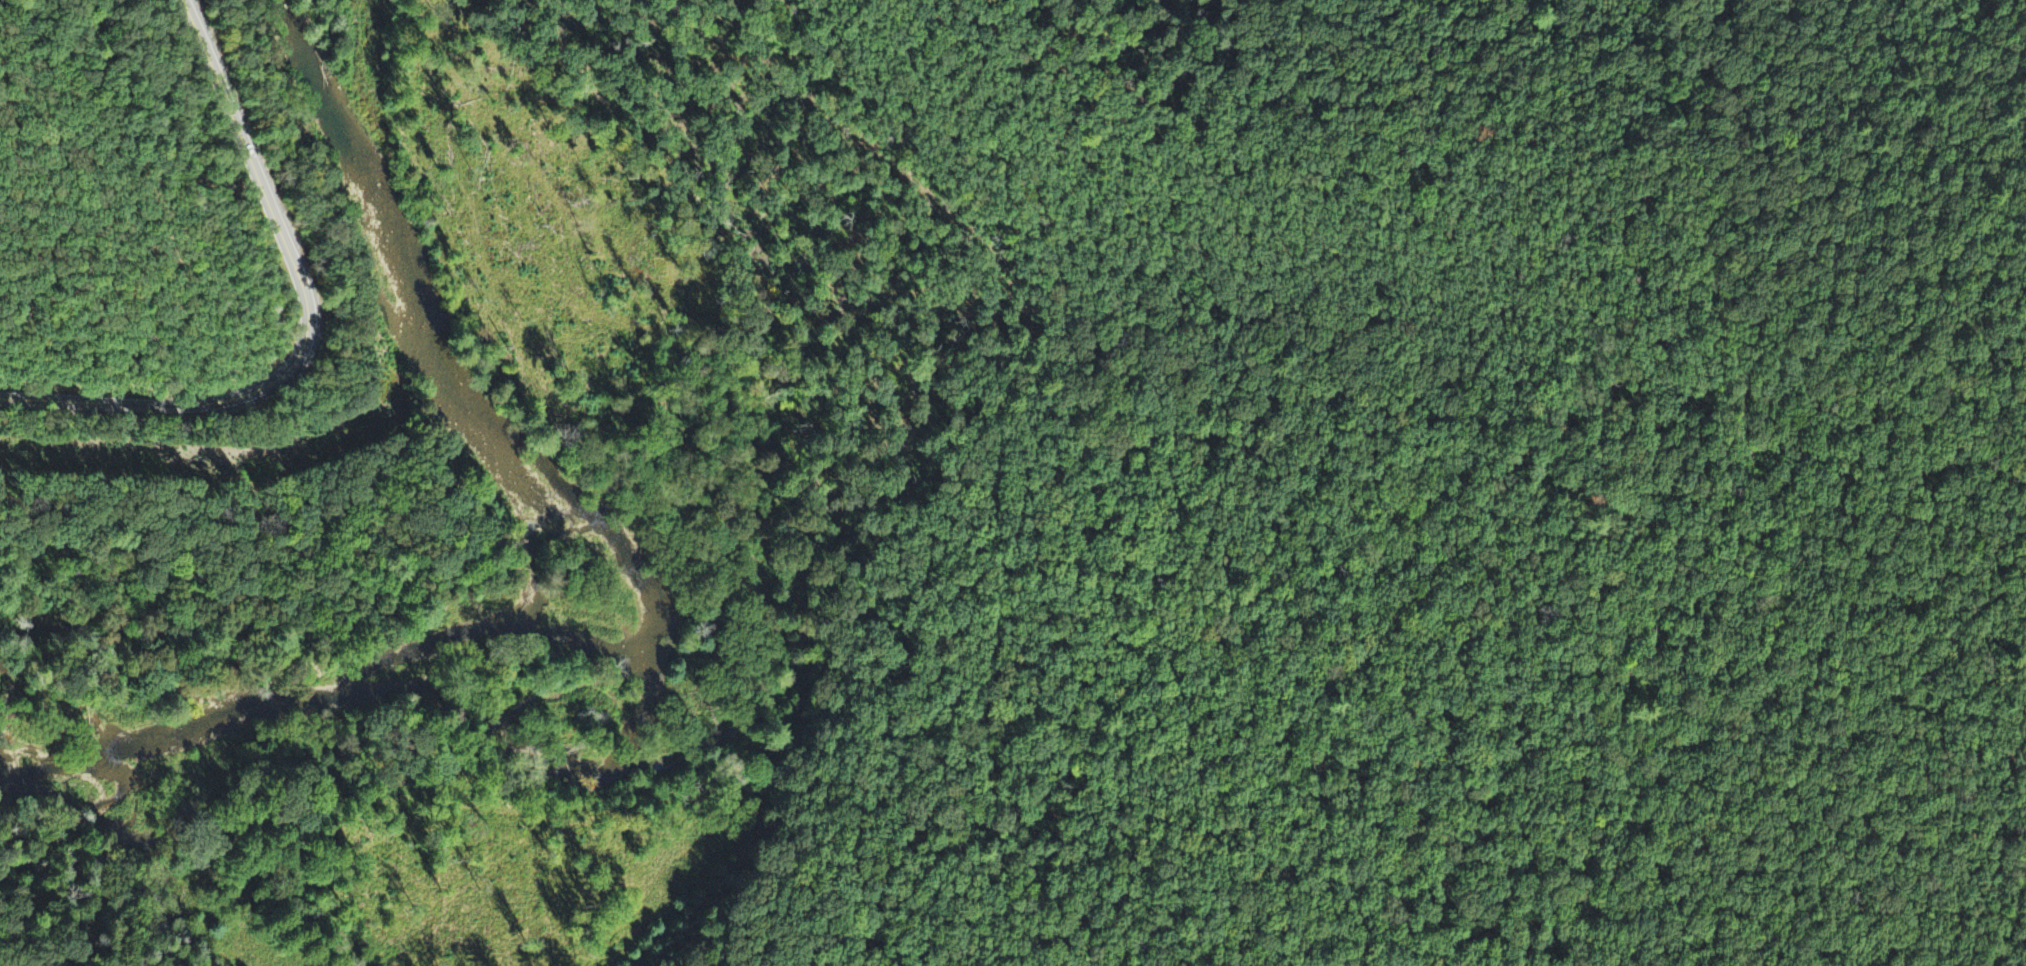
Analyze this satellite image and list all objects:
road: (300, 324)

